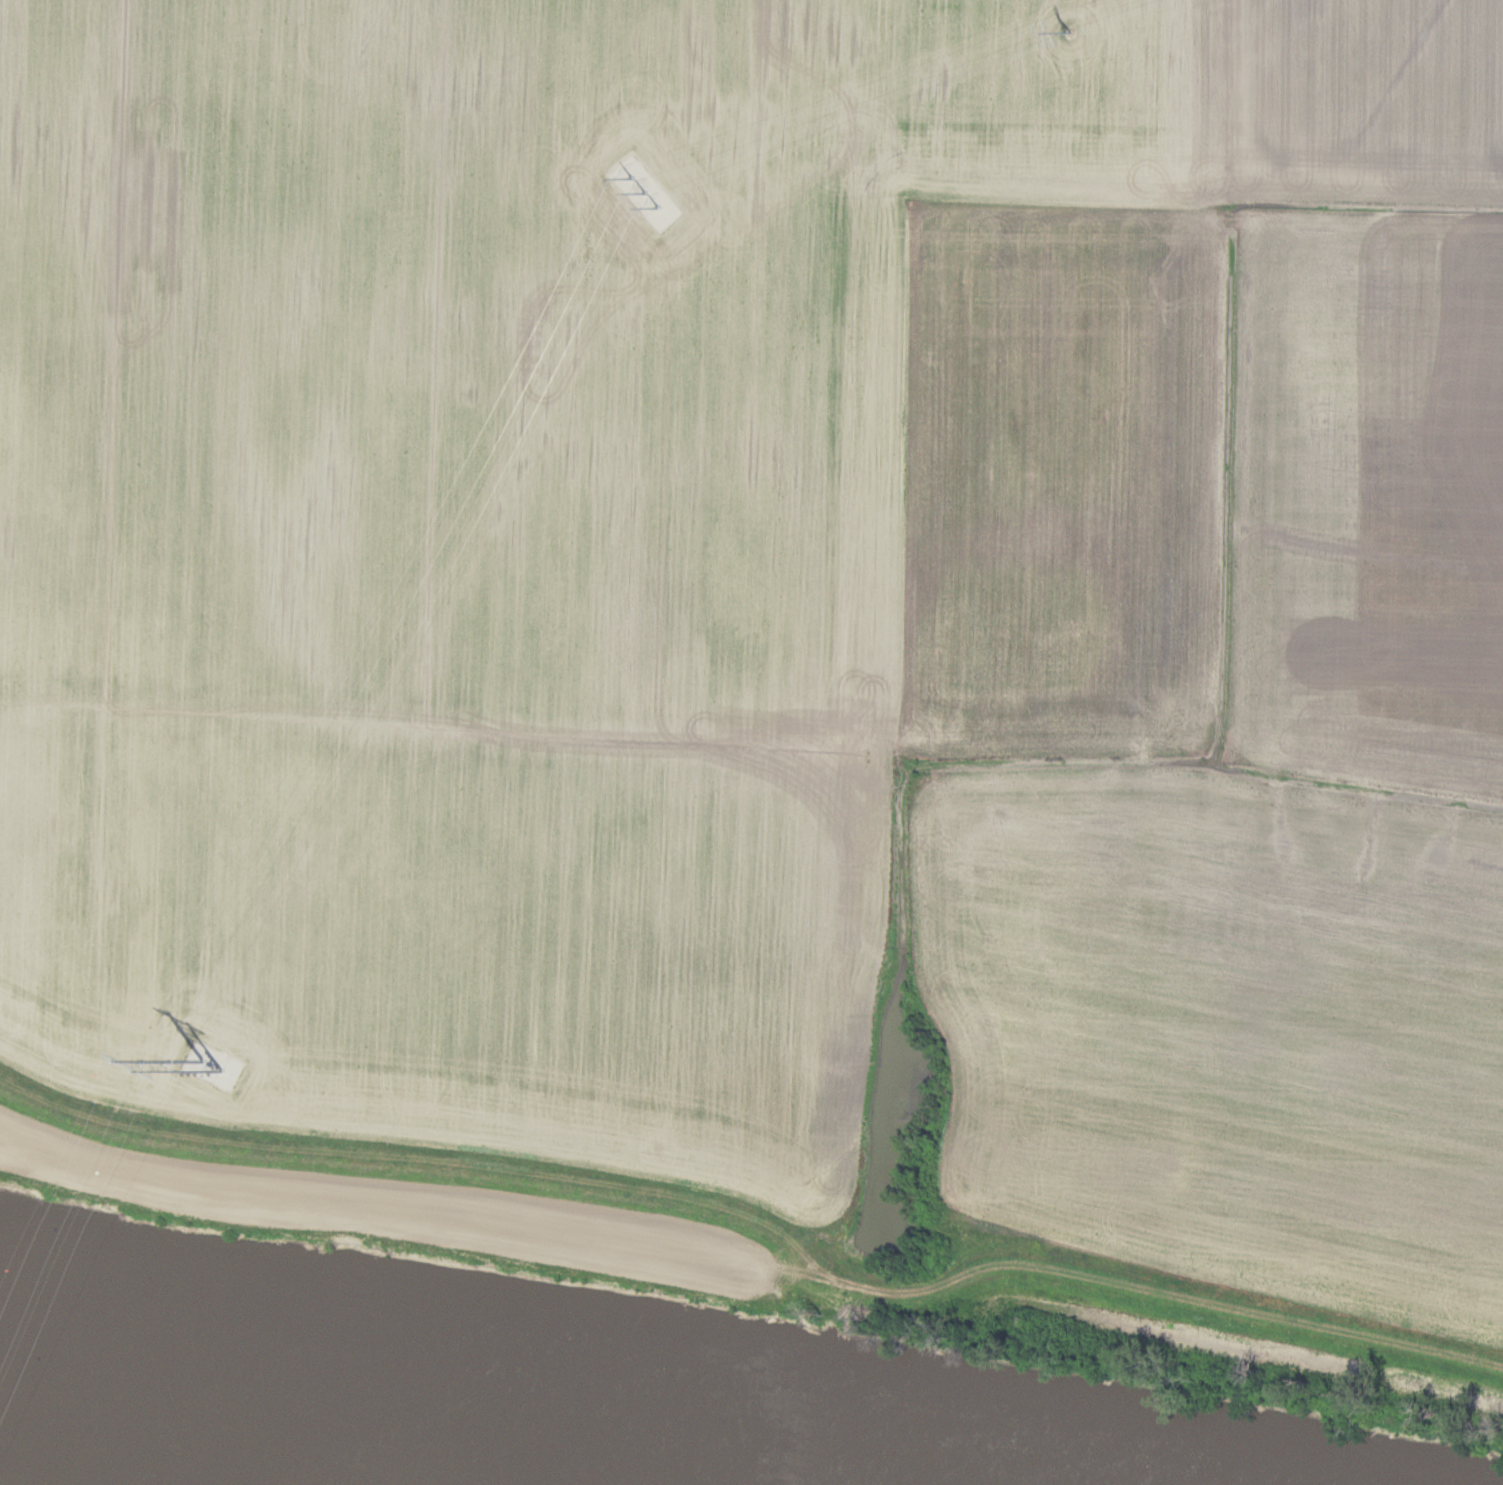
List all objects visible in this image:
power tower: (1079, 41)
power tower: (649, 210)
power tower: (216, 1065)

